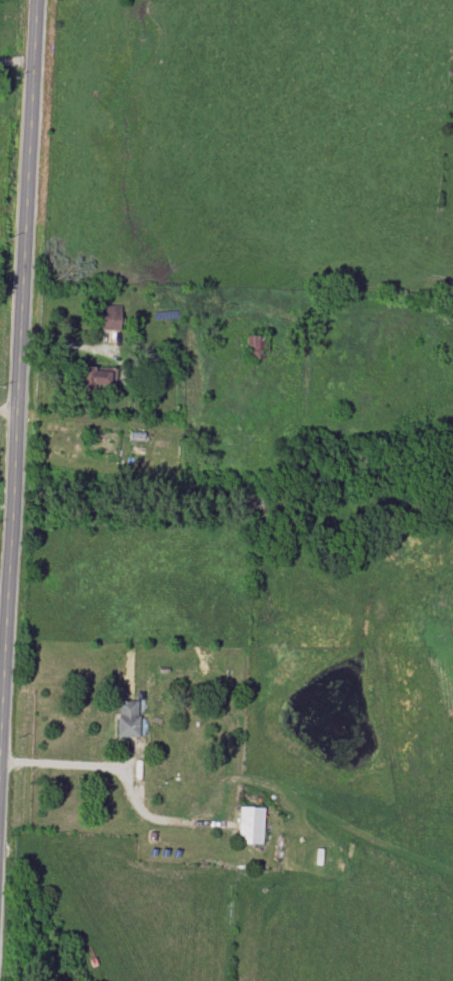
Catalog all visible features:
road: (15, 60)
building: (111, 317)
road: (17, 339)
building: (96, 378)
road: (7, 410)
building: (129, 717)
road: (61, 762)
building: (250, 824)

